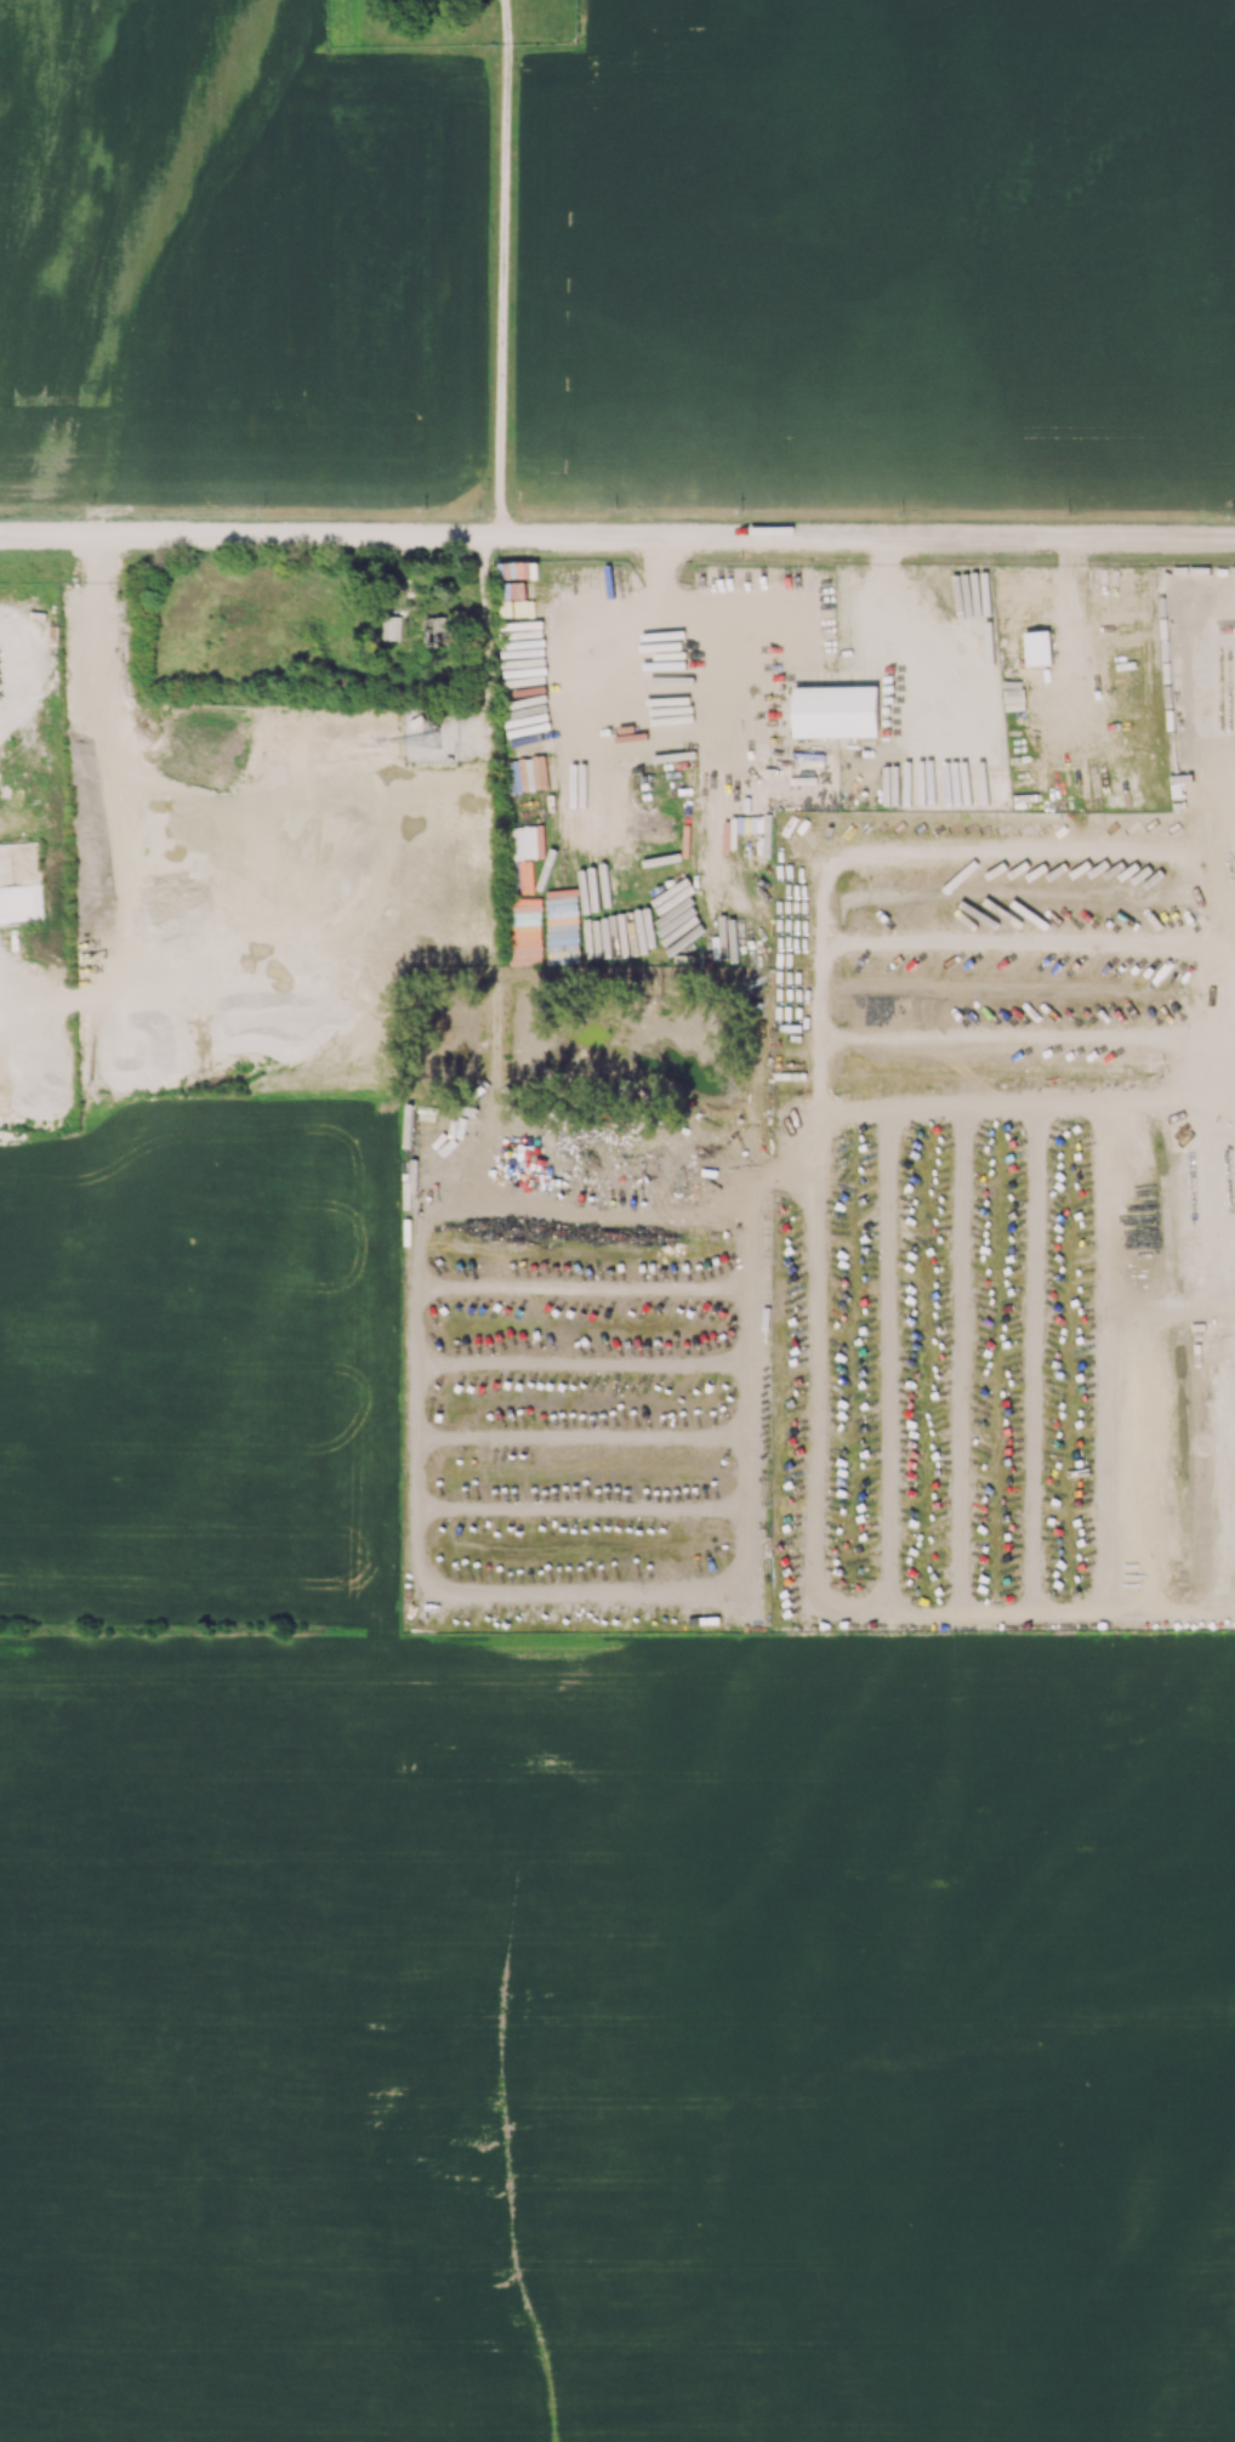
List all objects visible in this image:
road: (503, 266)
road: (617, 533)
road: (1151, 591)
road: (659, 606)
road: (478, 635)
road: (1074, 641)
road: (907, 853)
road: (1220, 1317)
road: (1211, 1455)

